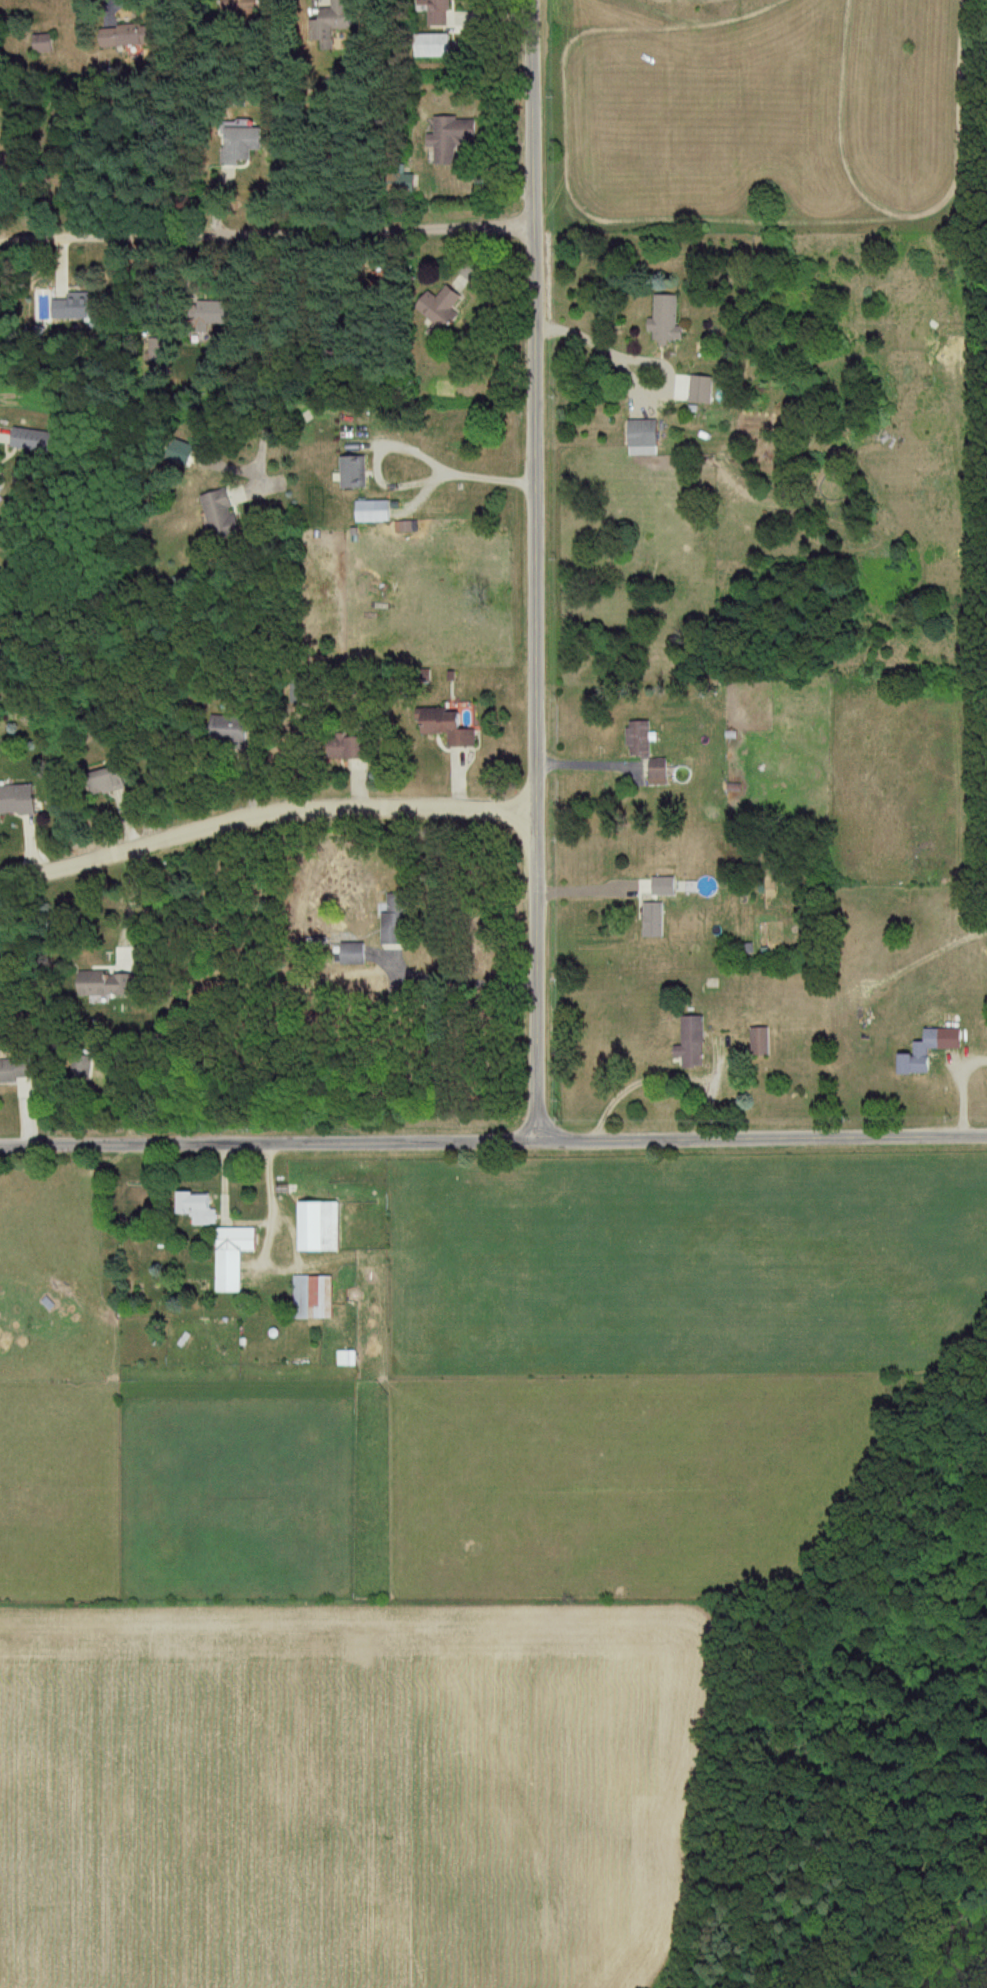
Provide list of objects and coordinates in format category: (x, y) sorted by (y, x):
building: (245, 7)
building: (439, 12)
building: (333, 24)
building: (130, 36)
building: (47, 43)
building: (438, 46)
building: (454, 137)
building: (245, 145)
road: (267, 246)
building: (83, 308)
building: (442, 310)
building: (211, 315)
building: (668, 320)
road: (641, 355)
building: (702, 390)
building: (647, 433)
building: (37, 441)
road: (416, 451)
building: (357, 473)
building: (377, 511)
building: (224, 515)
road: (540, 571)
building: (453, 728)
building: (232, 731)
building: (642, 740)
building: (353, 748)
building: (661, 773)
building: (112, 782)
building: (20, 800)
road: (267, 816)
road: (137, 897)
building: (655, 920)
building: (355, 954)
building: (109, 984)
building: (764, 1041)
building: (695, 1042)
building: (933, 1049)
building: (83, 1067)
building: (16, 1070)
road: (493, 1143)
building: (140, 1197)
building: (199, 1207)
road: (249, 1223)
building: (324, 1226)
building: (236, 1256)
building: (316, 1297)
building: (350, 1358)

